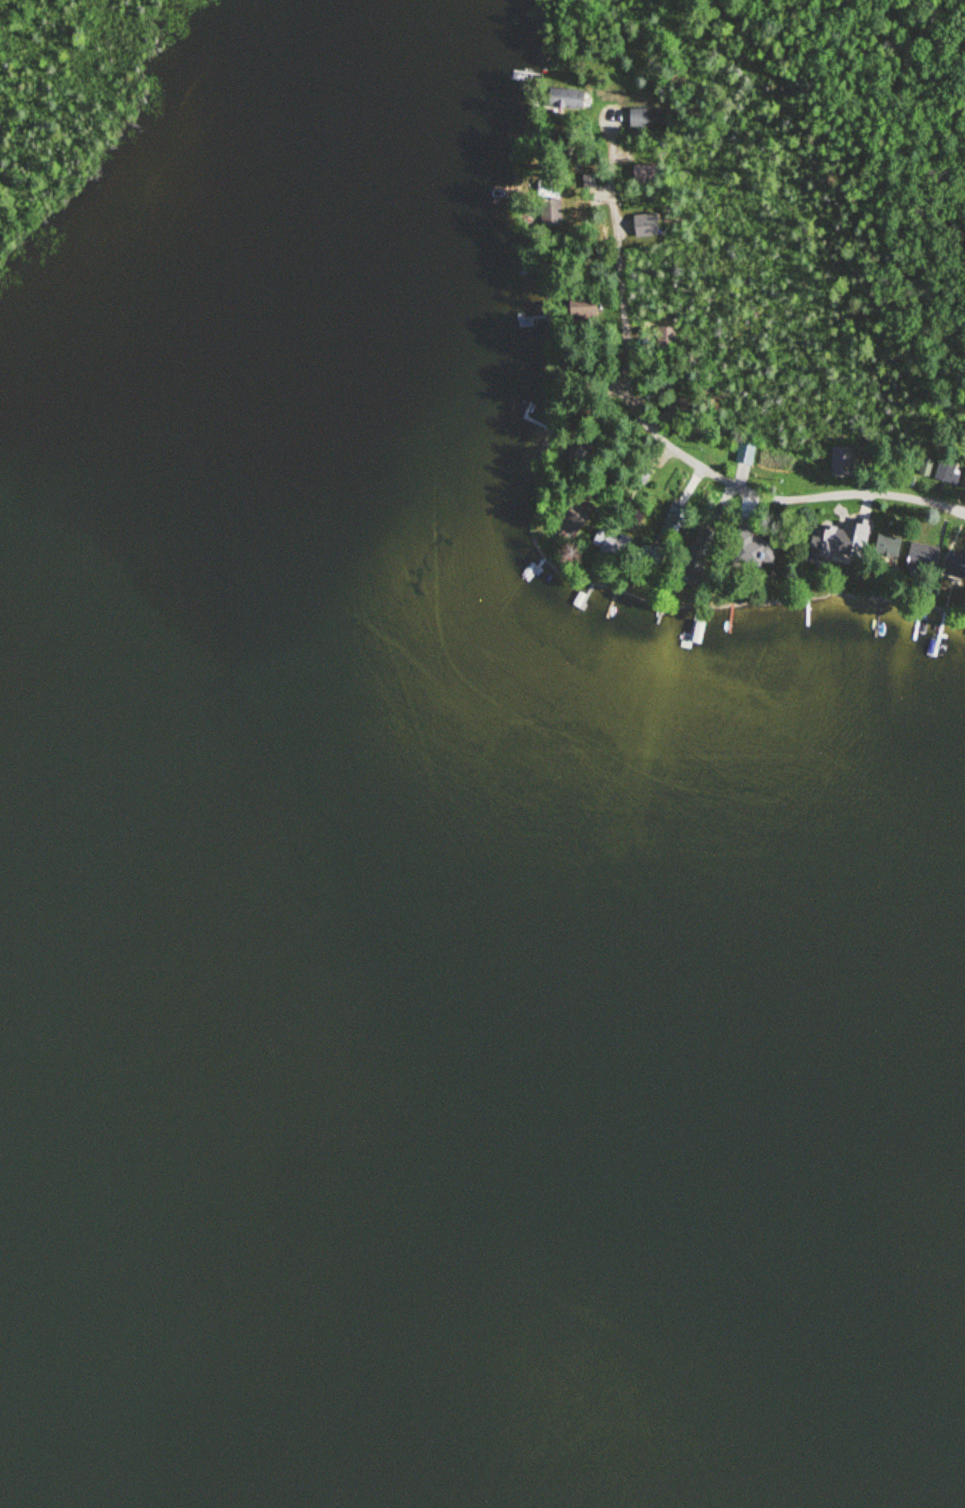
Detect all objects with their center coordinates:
building: (565, 98)
building: (646, 118)
building: (644, 173)
building: (589, 181)
building: (551, 191)
building: (646, 226)
building: (680, 409)
road: (655, 431)
building: (576, 450)
building: (746, 452)
building: (843, 460)
building: (945, 470)
building: (642, 472)
building: (964, 483)
building: (679, 516)
building: (572, 520)
building: (838, 540)
building: (612, 544)
building: (744, 549)
building: (699, 554)
building: (922, 556)
building: (775, 558)
building: (955, 563)

